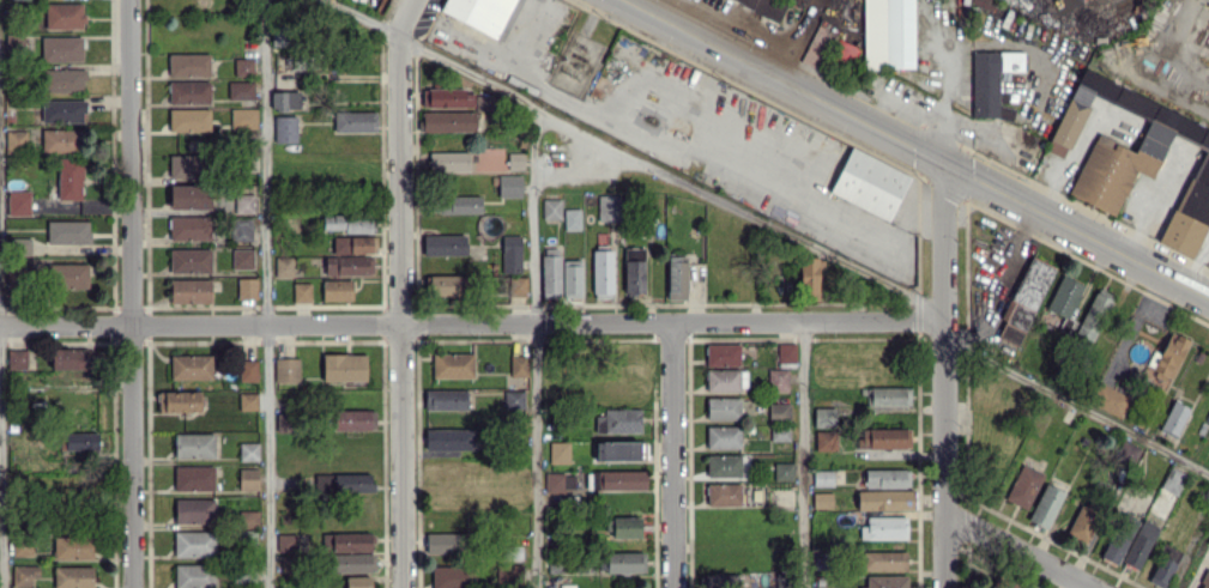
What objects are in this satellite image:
road: (407, 18)
road: (1174, 42)
road: (918, 147)
road: (635, 158)
road: (133, 293)
road: (266, 293)
road: (400, 313)
road: (471, 326)
road: (537, 347)
road: (944, 374)
road: (1076, 406)
road: (672, 456)
road: (804, 456)
road: (1, 457)
road: (1018, 551)
road: (1075, 583)

